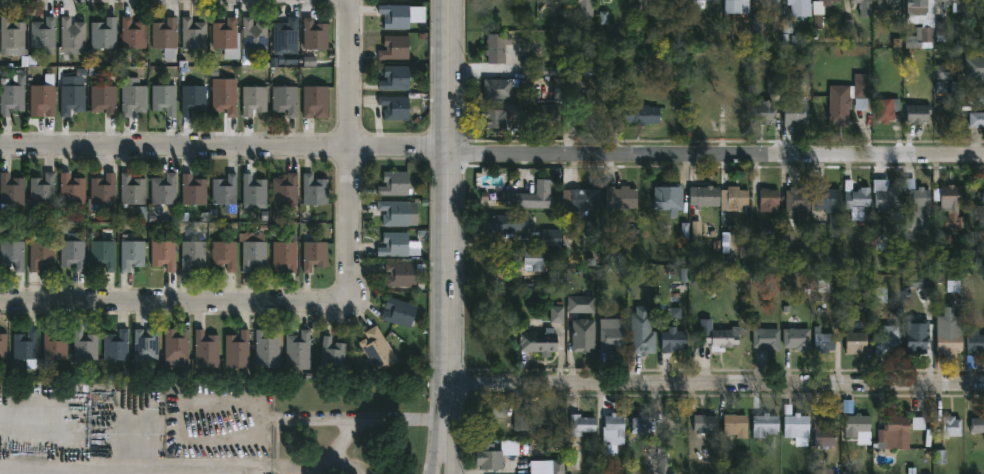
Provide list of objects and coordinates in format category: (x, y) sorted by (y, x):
building: (768, 1)
building: (862, 1)
building: (699, 3)
building: (954, 3)
building: (887, 4)
building: (737, 6)
building: (801, 7)
building: (584, 9)
building: (820, 11)
building: (395, 16)
building: (921, 20)
building: (72, 33)
building: (104, 33)
building: (132, 33)
building: (193, 33)
building: (315, 34)
building: (43, 35)
building: (165, 36)
building: (11, 37)
building: (227, 37)
building: (253, 37)
building: (286, 39)
building: (395, 47)
building: (497, 47)
building: (981, 70)
road: (450, 76)
building: (396, 78)
building: (554, 79)
building: (500, 89)
building: (12, 94)
building: (979, 94)
building: (224, 96)
building: (43, 97)
building: (71, 97)
building: (193, 98)
building: (103, 99)
building: (133, 99)
building: (164, 99)
building: (254, 99)
building: (285, 99)
building: (848, 99)
building: (315, 101)
building: (395, 107)
building: (585, 107)
building: (741, 108)
building: (889, 110)
building: (795, 111)
building: (546, 113)
building: (765, 113)
building: (919, 113)
building: (641, 114)
building: (977, 119)
building: (496, 120)
road: (225, 151)
road: (352, 151)
road: (716, 154)
building: (395, 183)
building: (71, 189)
building: (42, 190)
building: (132, 190)
building: (163, 190)
building: (193, 190)
building: (224, 190)
building: (314, 190)
building: (10, 191)
building: (254, 192)
building: (102, 193)
building: (284, 194)
building: (533, 196)
building: (889, 196)
building: (983, 196)
building: (621, 197)
building: (705, 197)
building: (670, 198)
building: (737, 198)
building: (586, 199)
building: (797, 200)
building: (856, 200)
building: (769, 201)
building: (915, 204)
building: (950, 205)
building: (830, 207)
building: (394, 213)
building: (503, 223)
building: (394, 245)
building: (253, 249)
building: (132, 251)
building: (73, 252)
building: (12, 254)
building: (41, 254)
building: (103, 254)
building: (163, 254)
building: (192, 254)
building: (224, 254)
building: (284, 254)
building: (314, 254)
building: (529, 263)
building: (400, 275)
road: (448, 295)
road: (177, 303)
building: (399, 312)
building: (642, 332)
building: (583, 335)
building: (918, 335)
building: (612, 336)
building: (538, 338)
building: (722, 338)
building: (767, 338)
building: (797, 338)
building: (673, 340)
building: (888, 340)
building: (824, 341)
building: (974, 341)
building: (856, 342)
building: (949, 343)
building: (266, 344)
building: (54, 345)
building: (3, 346)
building: (85, 346)
building: (116, 346)
building: (145, 346)
building: (205, 346)
building: (298, 346)
building: (25, 347)
building: (175, 348)
building: (378, 349)
building: (237, 350)
building: (332, 356)
road: (715, 383)
road: (248, 402)
building: (494, 409)
building: (521, 419)
building: (704, 422)
building: (582, 424)
building: (641, 424)
building: (735, 424)
building: (765, 425)
building: (857, 425)
building: (978, 425)
building: (797, 426)
building: (952, 427)
building: (825, 431)
building: (893, 432)
building: (613, 433)
road: (449, 449)
road: (339, 451)
building: (496, 454)
road: (435, 455)
road: (70, 467)
road: (454, 467)
road: (240, 468)
building: (541, 468)
building: (824, 471)

